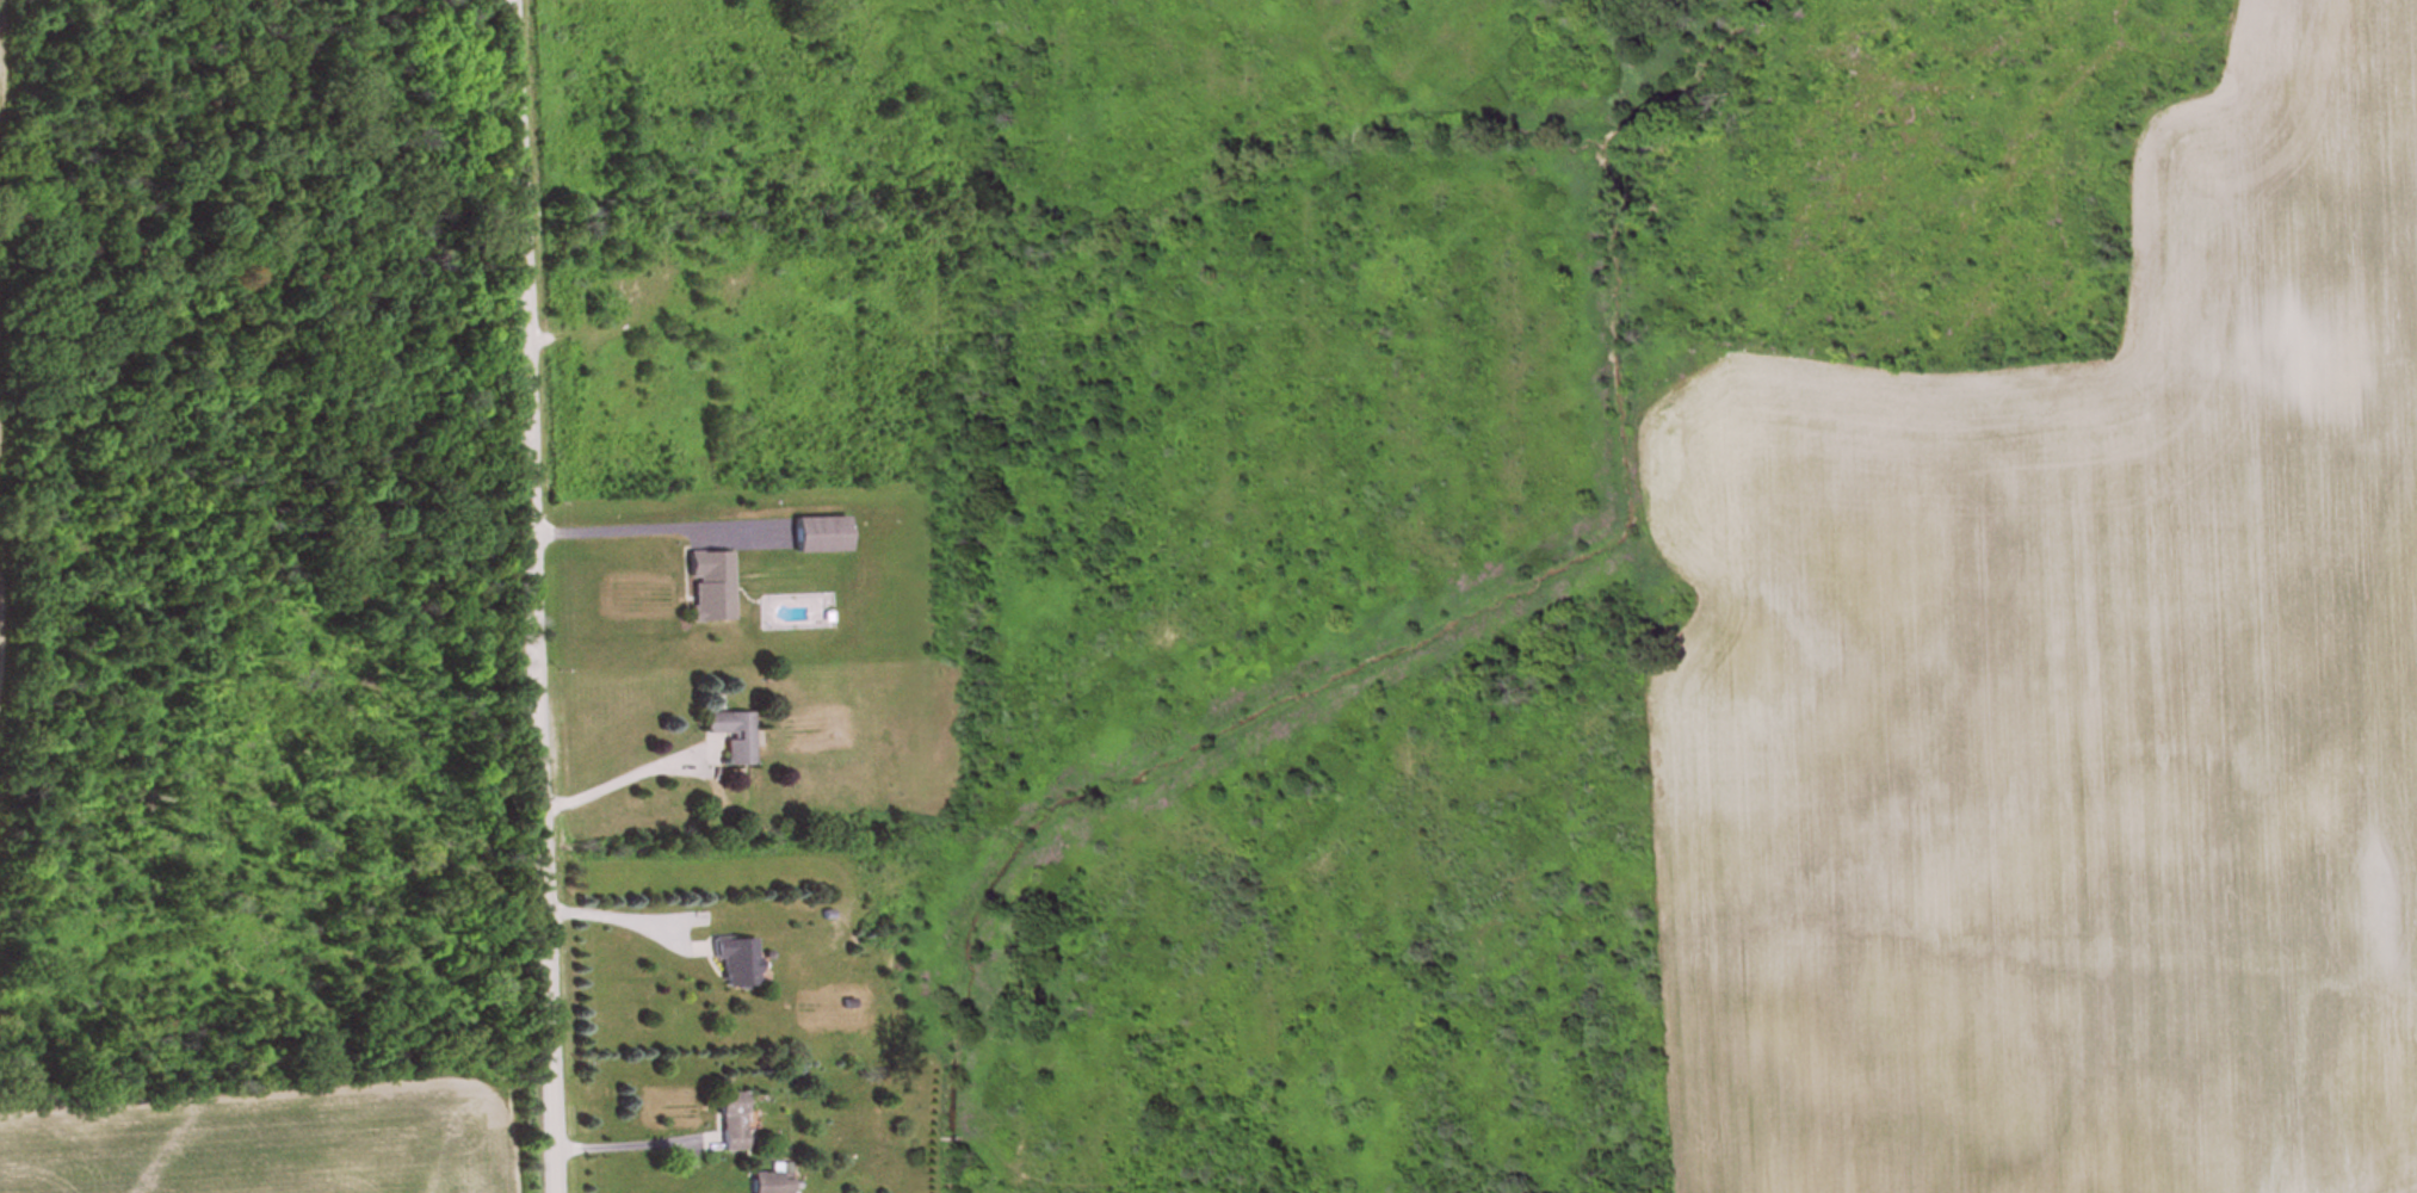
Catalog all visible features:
building: (823, 536)
building: (712, 588)
road: (532, 595)
building: (787, 613)
building: (734, 736)
building: (737, 963)
building: (731, 1124)
building: (772, 1183)

